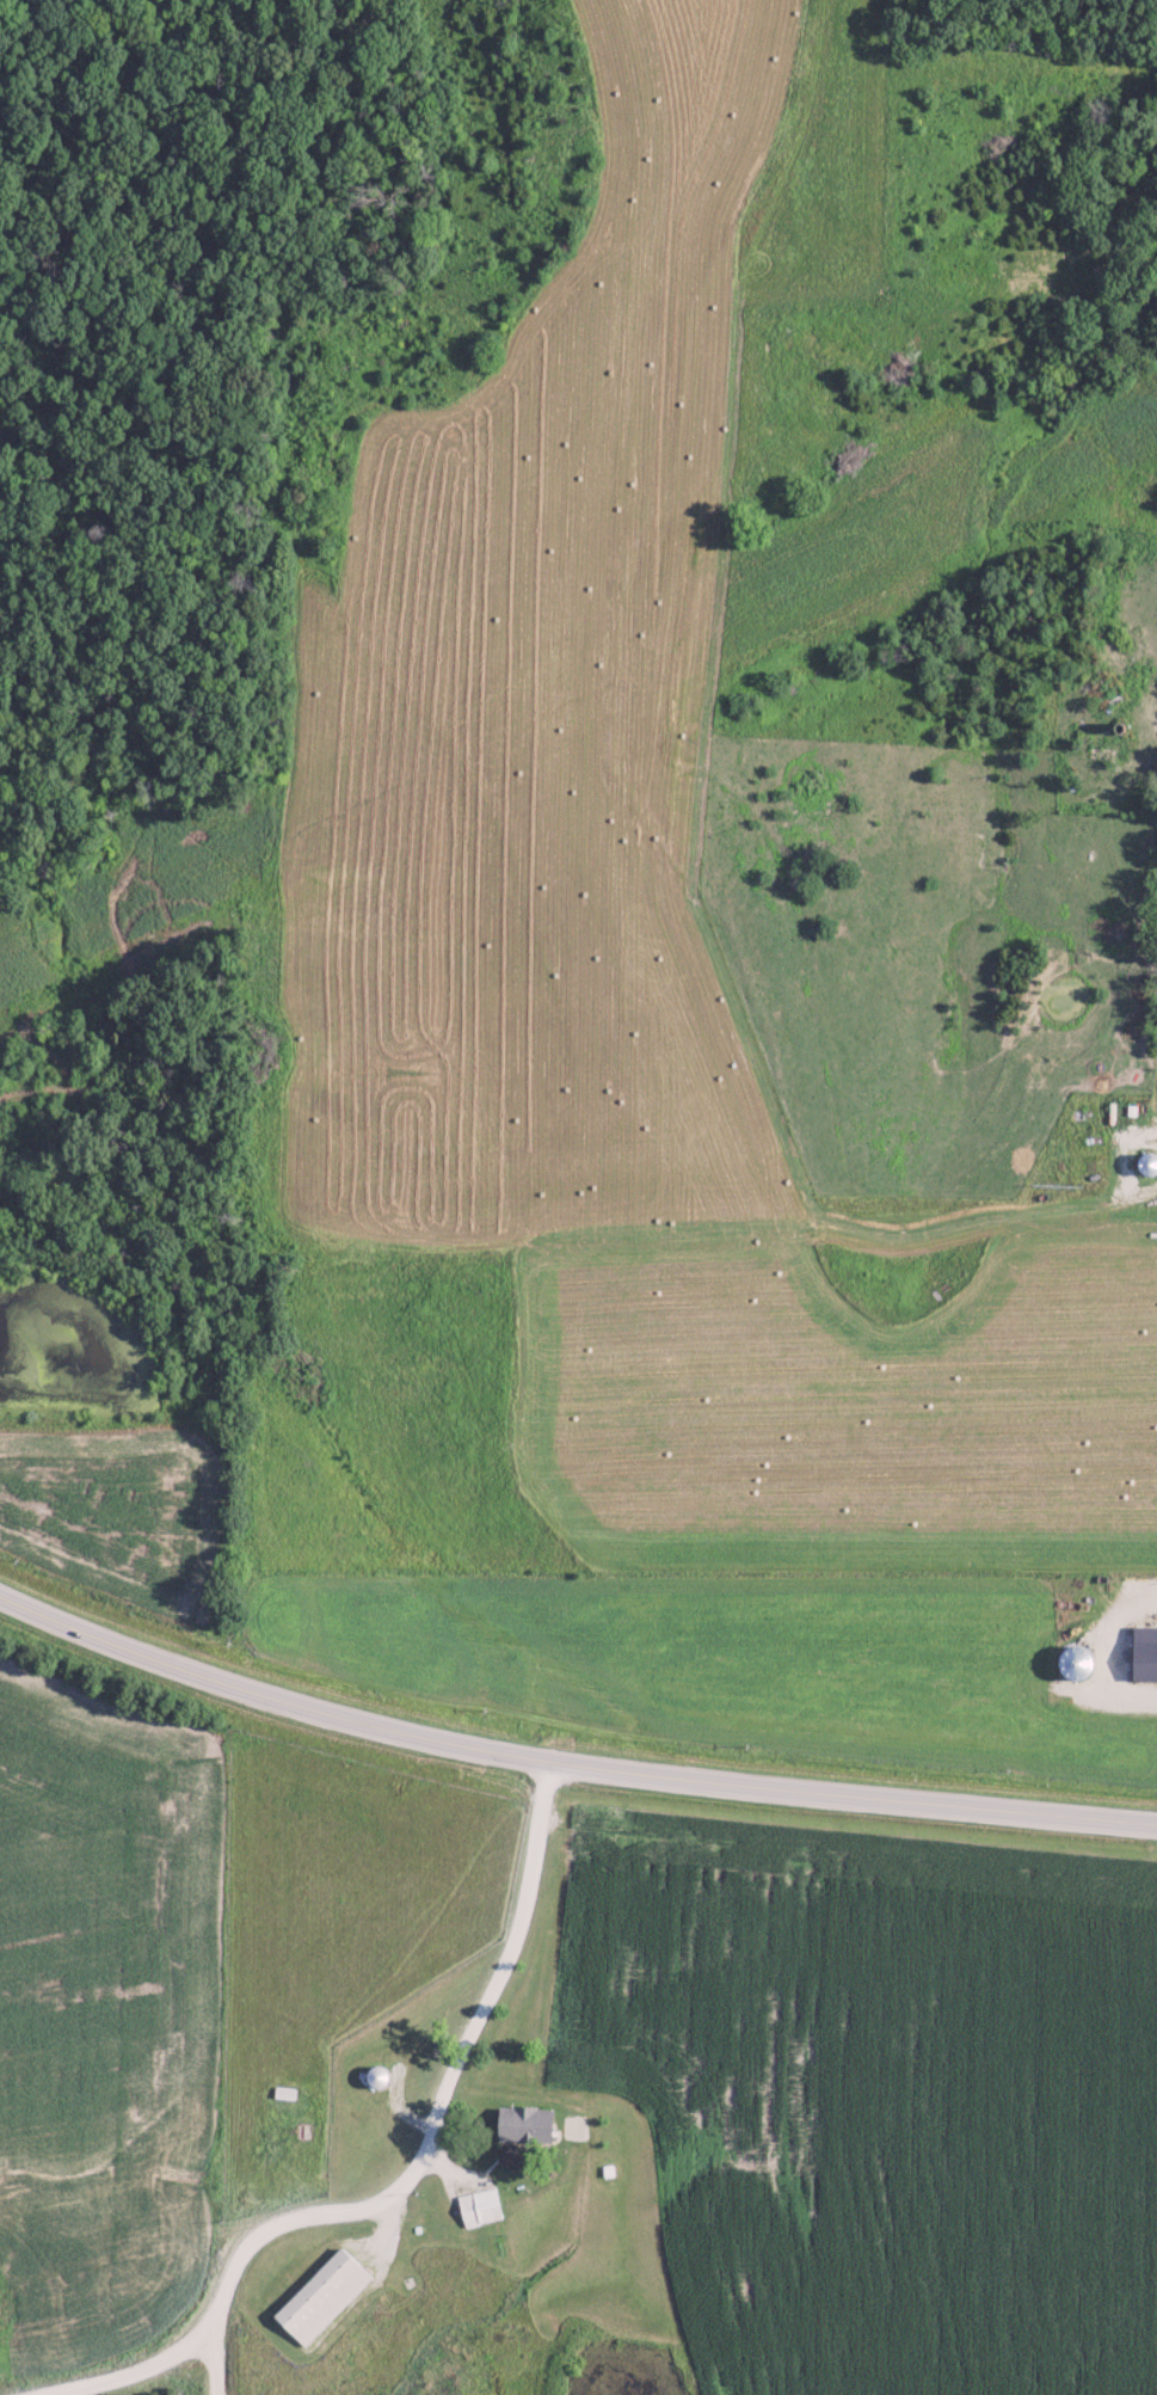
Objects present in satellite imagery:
building: (1146, 1653)
road: (567, 1761)
road: (441, 2100)
building: (533, 2123)
building: (484, 2205)
building: (326, 2296)
road: (219, 2362)
road: (130, 2372)

